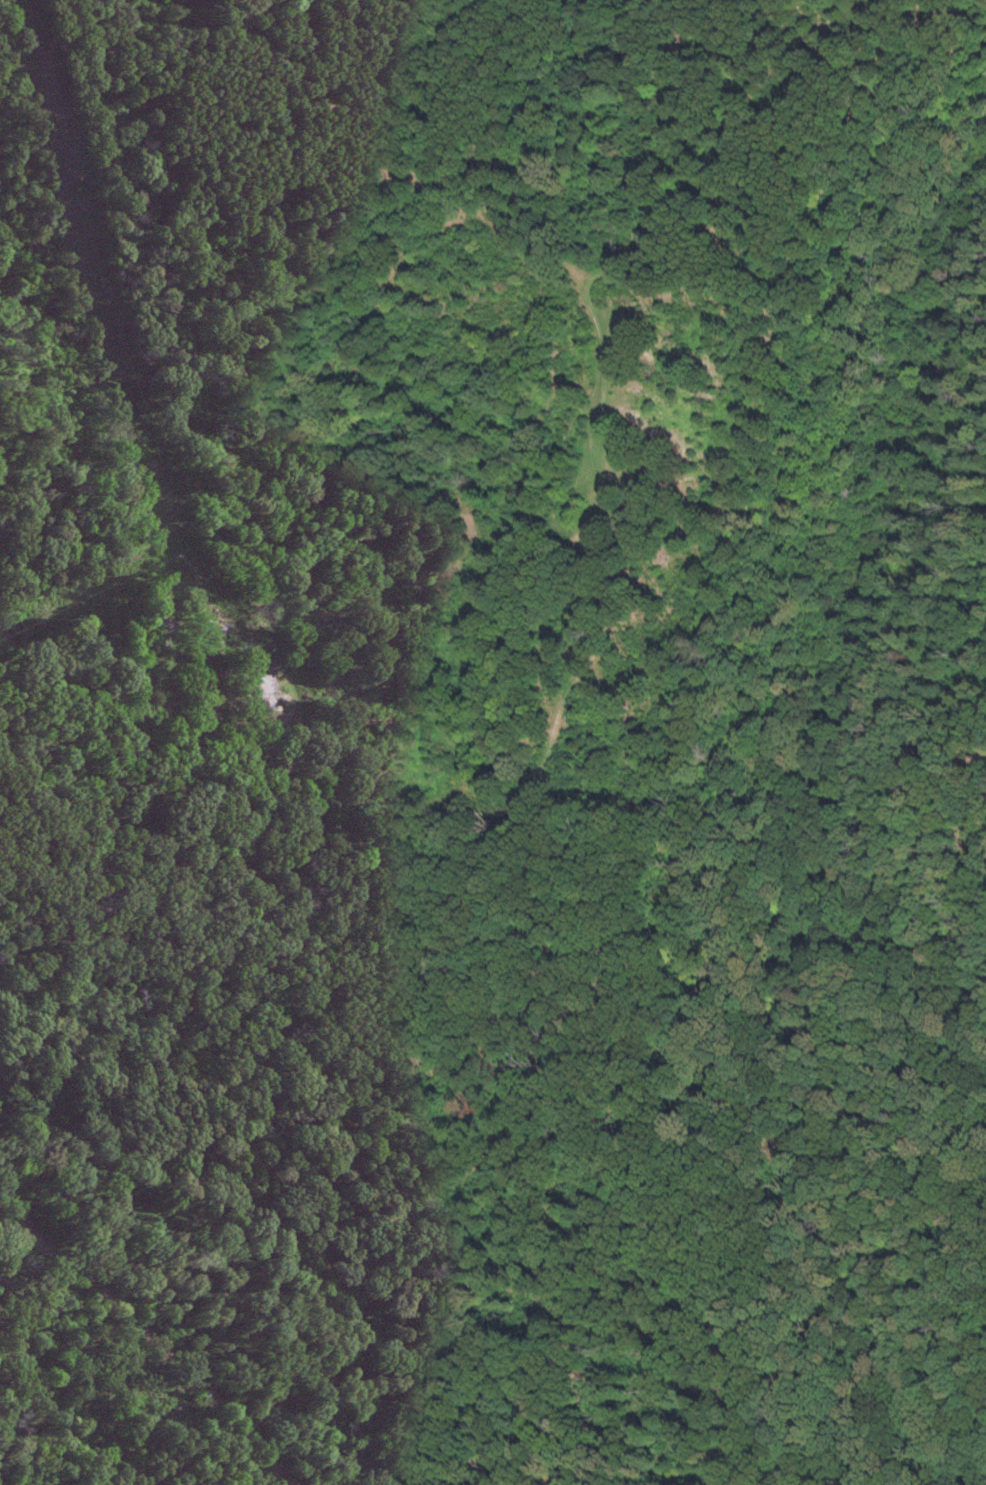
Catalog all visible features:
road: (55, 671)
building: (258, 695)
road: (158, 1339)

